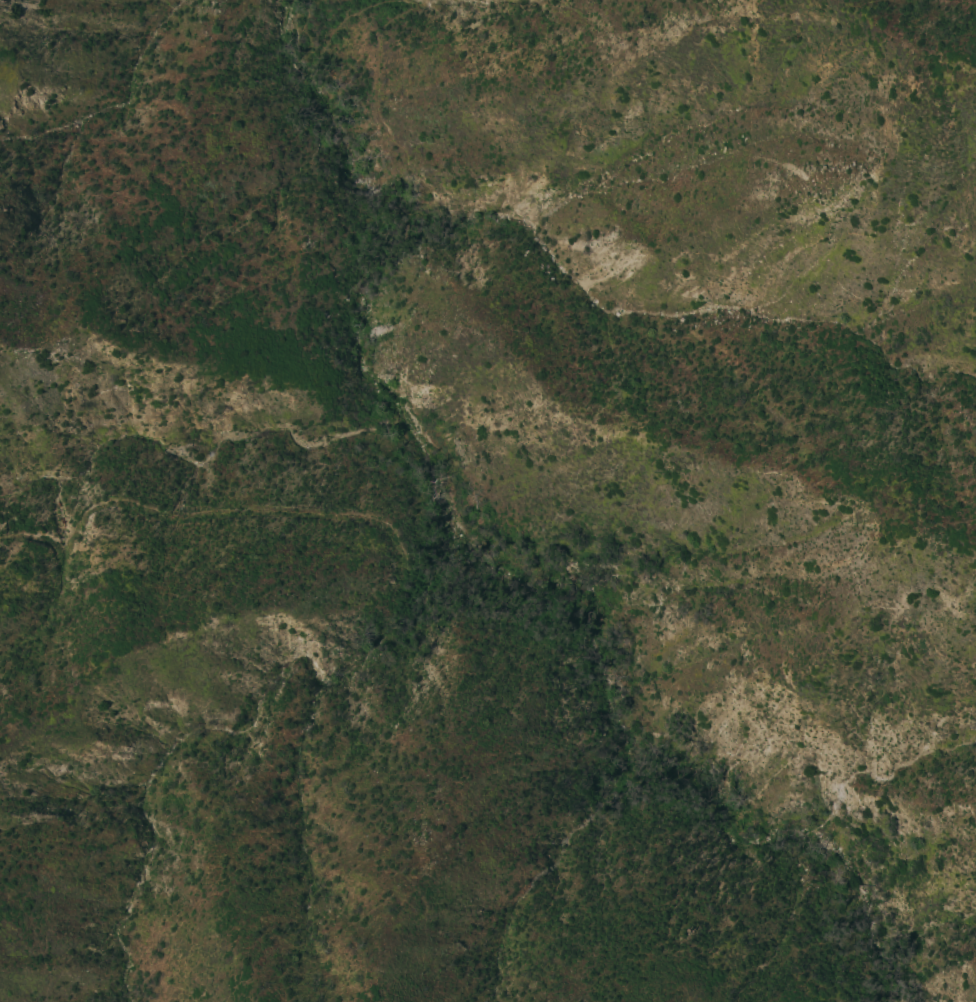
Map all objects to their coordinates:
road: (320, 53)
road: (899, 61)
road: (445, 490)

